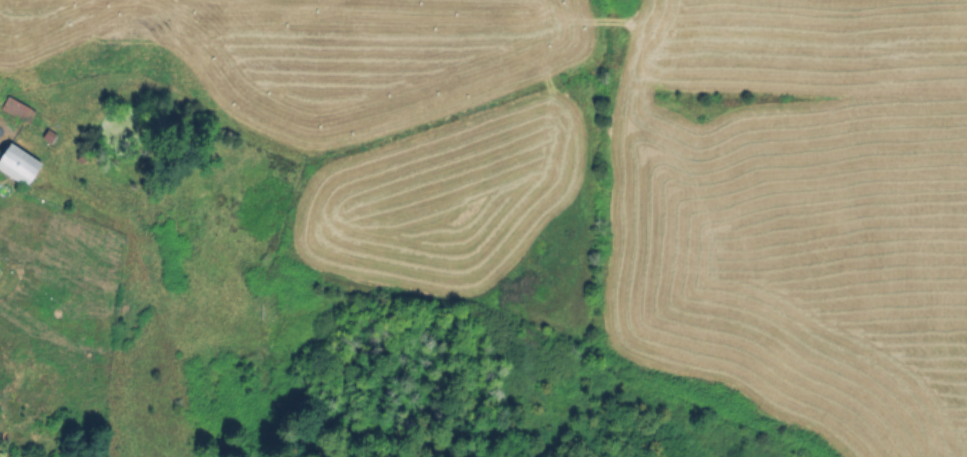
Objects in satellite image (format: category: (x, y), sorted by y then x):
building: (19, 106)
building: (51, 136)
building: (19, 163)

